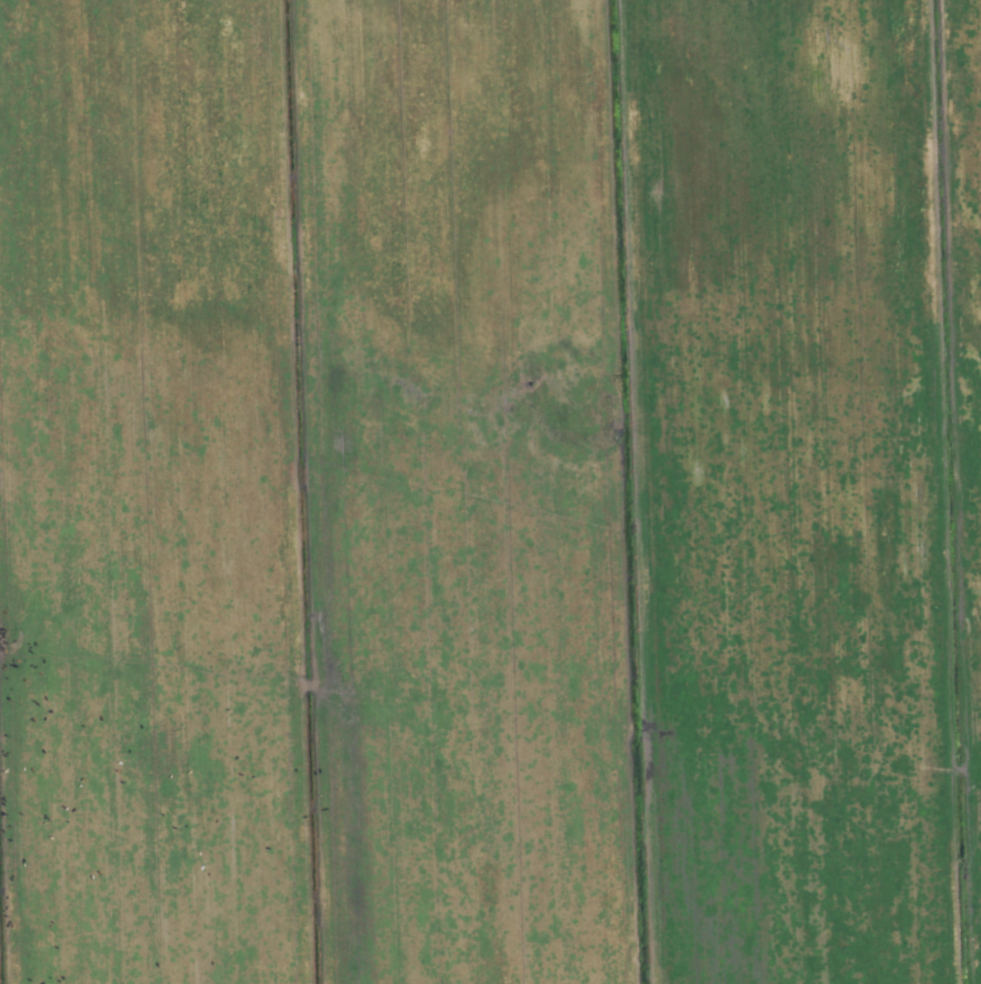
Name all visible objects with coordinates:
crop: (490, 492)

